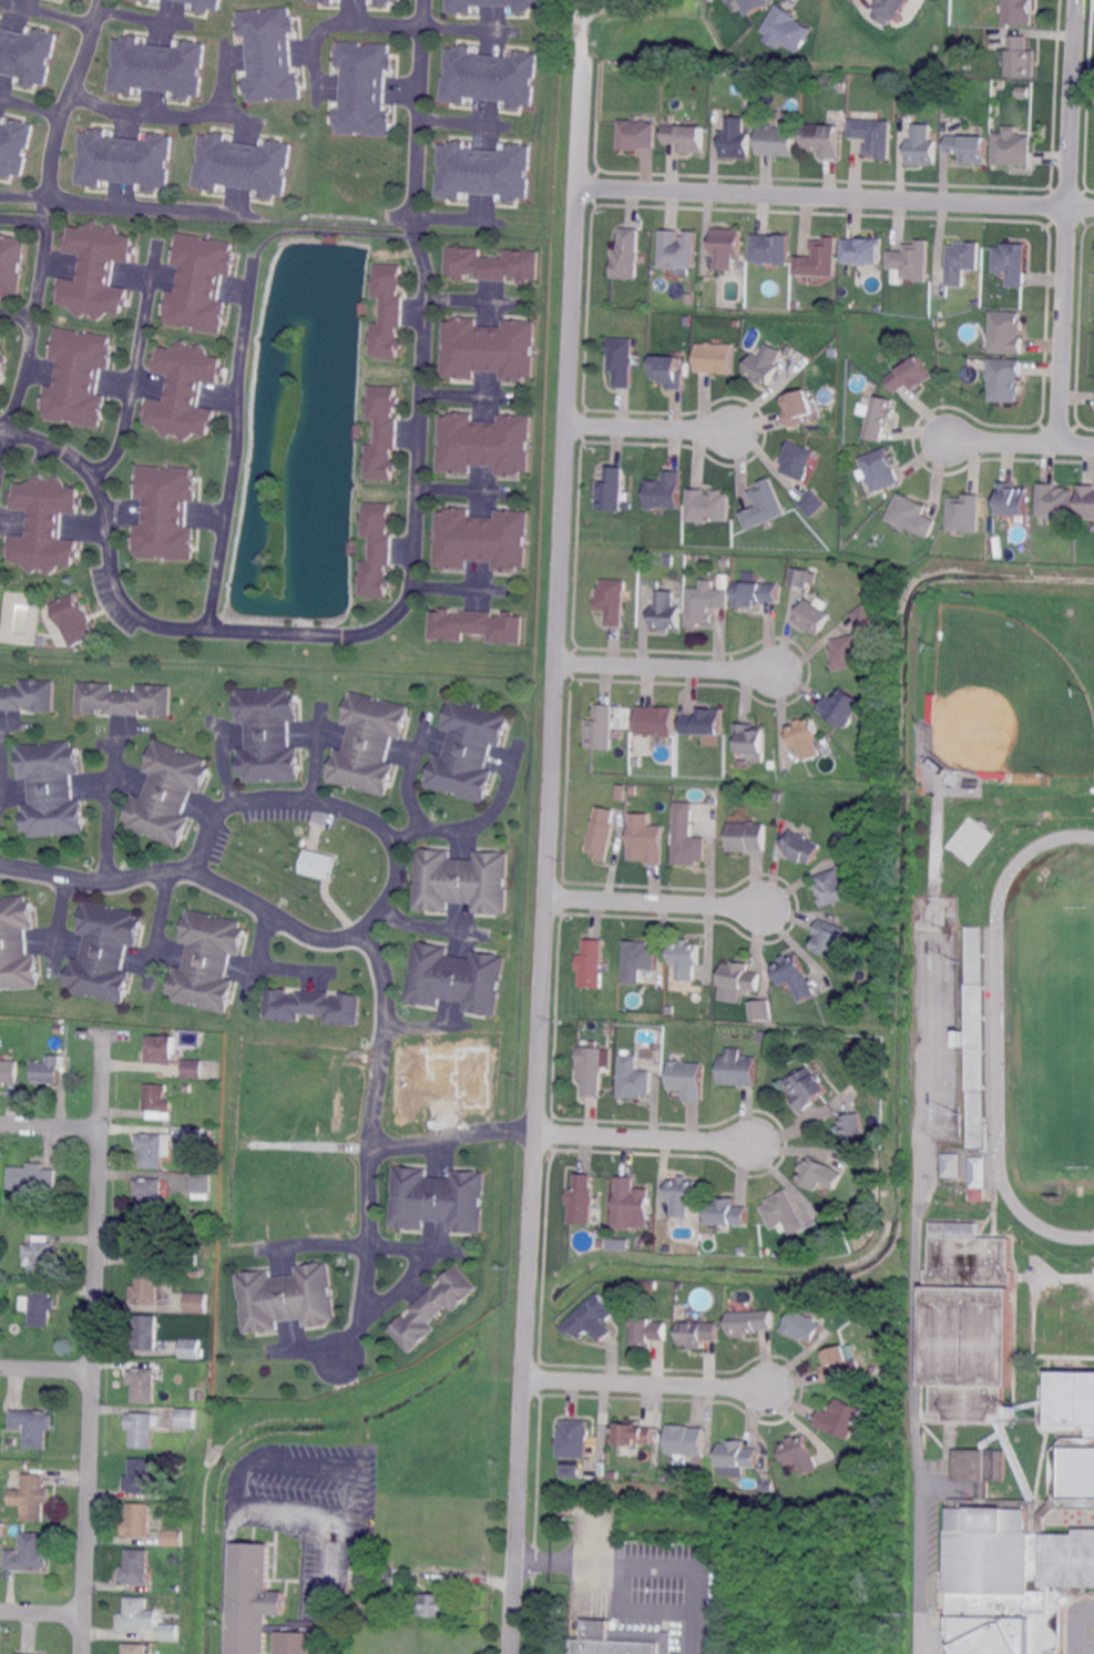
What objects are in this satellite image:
building: (149, 0)
building: (320, 1)
building: (384, 1)
building: (729, 1)
building: (204, 4)
building: (488, 4)
building: (753, 6)
building: (890, 10)
building: (1020, 12)
road: (336, 18)
road: (462, 27)
building: (786, 30)
building: (27, 55)
building: (268, 55)
building: (1021, 58)
building: (156, 68)
building: (720, 72)
building: (488, 76)
building: (777, 79)
building: (886, 84)
building: (840, 85)
building: (362, 89)
building: (1023, 92)
road: (68, 98)
road: (31, 103)
road: (418, 111)
road: (180, 112)
road: (456, 121)
building: (635, 135)
building: (684, 137)
building: (873, 137)
building: (735, 140)
building: (821, 140)
building: (777, 141)
building: (922, 146)
building: (14, 147)
building: (1012, 147)
building: (969, 149)
building: (124, 160)
building: (242, 165)
building: (482, 172)
road: (835, 195)
road: (24, 200)
road: (152, 208)
road: (1067, 215)
building: (726, 247)
building: (770, 249)
building: (677, 252)
building: (861, 252)
building: (626, 256)
building: (818, 259)
building: (911, 262)
building: (961, 263)
building: (490, 264)
building: (1012, 264)
building: (11, 265)
building: (95, 270)
building: (200, 285)
road: (466, 296)
building: (688, 297)
building: (975, 304)
building: (879, 309)
building: (387, 310)
road: (14, 314)
building: (686, 319)
building: (736, 324)
road: (28, 331)
building: (1005, 333)
building: (0, 339)
building: (488, 349)
building: (789, 349)
building: (715, 358)
building: (622, 361)
building: (2, 363)
building: (764, 365)
road: (132, 366)
building: (668, 371)
building: (909, 376)
building: (78, 378)
building: (1005, 379)
building: (183, 391)
road: (459, 392)
building: (797, 408)
building: (879, 418)
road: (648, 427)
road: (1019, 432)
building: (381, 433)
road: (234, 445)
building: (483, 445)
building: (797, 461)
building: (880, 470)
road: (456, 487)
building: (612, 491)
building: (665, 492)
building: (1013, 499)
building: (1055, 501)
building: (1086, 502)
building: (811, 504)
building: (628, 507)
building: (707, 507)
building: (763, 507)
building: (165, 513)
building: (965, 514)
building: (911, 515)
building: (44, 524)
building: (480, 540)
building: (376, 551)
building: (669, 561)
building: (725, 562)
building: (799, 578)
road: (449, 585)
building: (756, 594)
building: (612, 601)
building: (704, 603)
building: (666, 612)
building: (812, 616)
building: (863, 616)
building: (73, 620)
building: (476, 626)
road: (319, 631)
building: (845, 653)
road: (666, 666)
building: (28, 696)
park: (1006, 697)
building: (122, 700)
building: (931, 707)
building: (841, 708)
building: (656, 722)
building: (703, 723)
building: (601, 728)
building: (267, 735)
building: (805, 738)
building: (749, 741)
building: (368, 744)
building: (467, 751)
road: (319, 755)
road: (221, 764)
building: (770, 766)
building: (937, 766)
road: (409, 775)
building: (994, 775)
building: (50, 789)
building: (631, 790)
building: (166, 794)
building: (775, 796)
building: (712, 800)
parking lot: (290, 814)
road: (108, 816)
road: (482, 821)
road: (548, 827)
building: (600, 835)
building: (745, 837)
building: (645, 840)
parking lot: (219, 843)
building: (686, 846)
building: (799, 847)
road: (393, 855)
building: (317, 862)
building: (460, 881)
road: (98, 885)
building: (834, 888)
road: (653, 900)
road: (57, 927)
road: (157, 932)
building: (828, 938)
building: (17, 946)
building: (104, 952)
building: (684, 960)
building: (206, 961)
building: (636, 961)
building: (591, 964)
building: (738, 977)
building: (794, 977)
building: (453, 979)
building: (311, 1007)
building: (668, 1010)
building: (759, 1010)
building: (60, 1028)
building: (972, 1030)
park: (1050, 1037)
building: (761, 1038)
building: (161, 1049)
building: (869, 1066)
building: (194, 1068)
building: (49, 1069)
building: (589, 1070)
building: (737, 1071)
building: (9, 1072)
building: (632, 1079)
building: (686, 1080)
building: (806, 1088)
building: (187, 1089)
building: (157, 1097)
road: (51, 1125)
building: (852, 1125)
road: (641, 1134)
building: (193, 1137)
road: (452, 1140)
road: (371, 1146)
building: (152, 1148)
building: (952, 1163)
building: (978, 1173)
building: (818, 1174)
building: (33, 1178)
building: (201, 1184)
building: (151, 1195)
building: (682, 1196)
building: (630, 1198)
building: (438, 1199)
building: (581, 1201)
building: (726, 1213)
building: (784, 1213)
building: (149, 1239)
building: (616, 1243)
building: (601, 1244)
building: (667, 1248)
building: (742, 1250)
building: (766, 1252)
building: (187, 1255)
building: (42, 1256)
building: (195, 1274)
road: (1066, 1274)
building: (9, 1284)
building: (147, 1286)
building: (671, 1286)
building: (285, 1298)
building: (40, 1304)
building: (195, 1304)
building: (432, 1309)
building: (870, 1319)
building: (591, 1320)
building: (750, 1323)
building: (969, 1324)
building: (802, 1327)
building: (650, 1331)
building: (145, 1333)
building: (697, 1334)
road: (93, 1342)
building: (191, 1348)
building: (839, 1362)
building: (201, 1367)
road: (47, 1368)
building: (875, 1369)
road: (645, 1382)
building: (144, 1384)
building: (187, 1418)
building: (840, 1419)
building: (34, 1426)
building: (143, 1428)
building: (634, 1435)
building: (573, 1439)
building: (685, 1440)
building: (11, 1441)
building: (800, 1454)
building: (737, 1456)
road: (351, 1458)
building: (178, 1463)
road: (233, 1472)
building: (570, 1472)
building: (653, 1474)
building: (140, 1476)
building: (768, 1485)
building: (32, 1497)
building: (566, 1510)
road: (277, 1513)
building: (139, 1520)
building: (174, 1538)
building: (1022, 1540)
parking lot: (931, 1545)
building: (30, 1553)
building: (362, 1560)
road: (605, 1561)
building: (137, 1566)
road: (920, 1572)
building: (389, 1576)
road: (225, 1581)
road: (325, 1585)
building: (174, 1589)
building: (168, 1600)
building: (434, 1604)
building: (263, 1606)
road: (42, 1611)
building: (136, 1616)
parking lot: (1081, 1626)
road: (1081, 1626)
building: (167, 1630)
building: (621, 1641)
building: (135, 1648)
building: (24, 1653)

